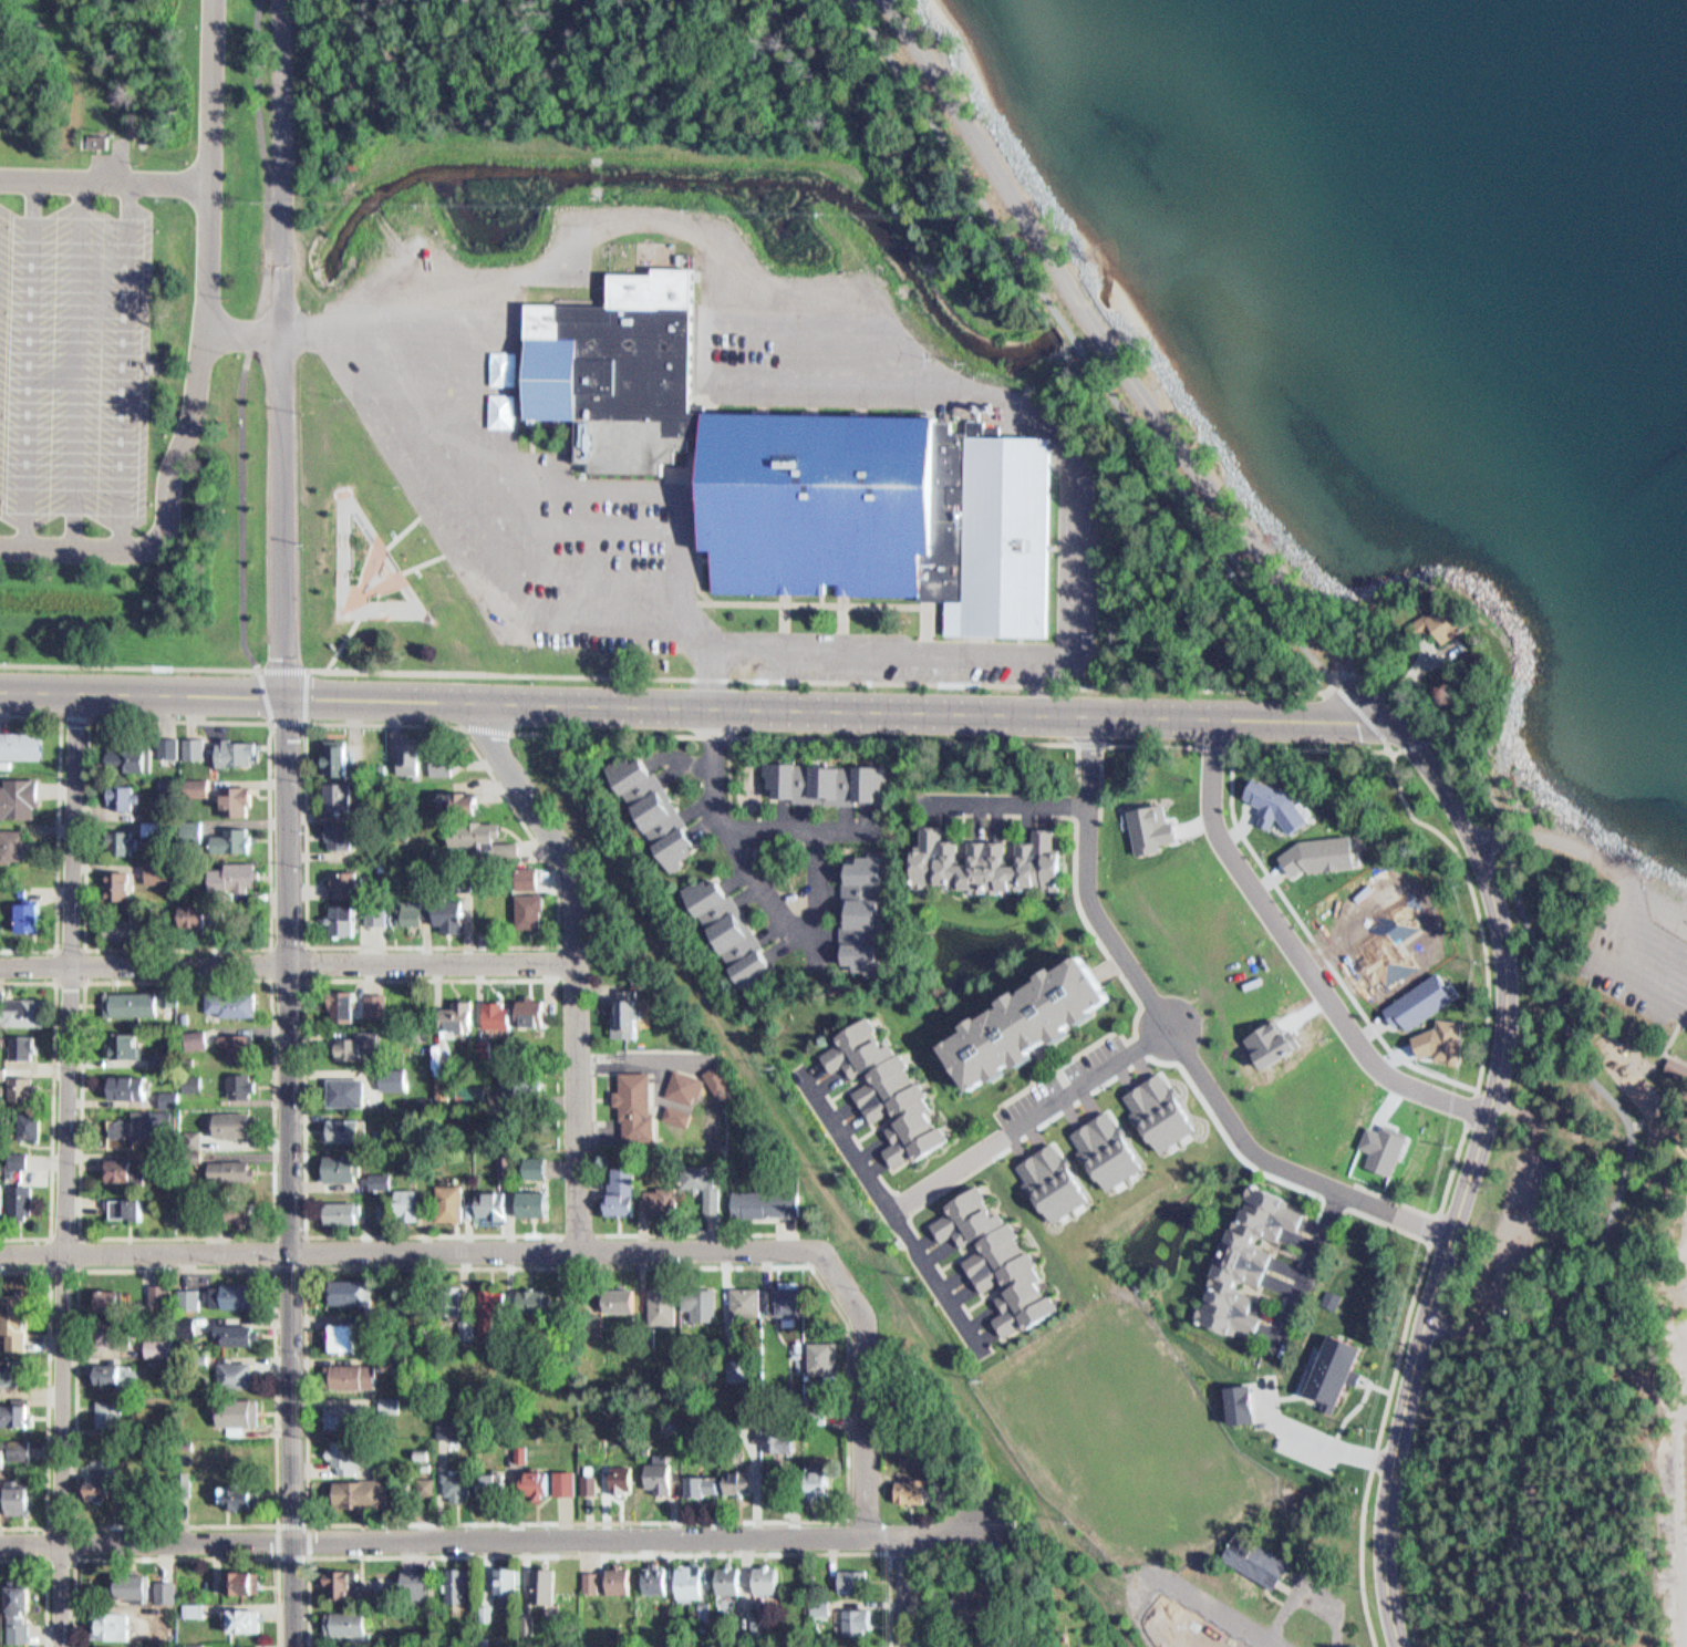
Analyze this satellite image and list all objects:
building: (92, 134)
road: (972, 135)
road: (932, 146)
road: (105, 180)
road: (1087, 307)
road: (1060, 324)
road: (244, 330)
road: (251, 336)
road: (280, 349)
road: (206, 355)
road: (32, 364)
parking lot: (75, 364)
road: (79, 365)
road: (126, 365)
building: (621, 365)
building: (887, 514)
road: (484, 557)
park: (372, 569)
building: (1439, 626)
road: (131, 666)
road: (826, 680)
road: (694, 708)
road: (1366, 714)
road: (308, 715)
road: (74, 718)
road: (487, 727)
building: (17, 736)
road: (816, 736)
road: (1116, 743)
road: (1215, 743)
building: (172, 747)
building: (197, 747)
road: (1090, 747)
building: (240, 753)
building: (415, 756)
building: (444, 763)
building: (188, 767)
building: (342, 774)
building: (832, 780)
building: (14, 789)
building: (125, 796)
building: (241, 801)
building: (462, 801)
road: (1007, 801)
building: (1274, 804)
building: (663, 811)
building: (1147, 822)
road: (54, 826)
building: (154, 828)
road: (806, 828)
building: (342, 835)
building: (478, 835)
building: (9, 837)
building: (237, 840)
building: (126, 842)
road: (1585, 850)
building: (1321, 853)
building: (1002, 863)
building: (165, 873)
building: (239, 876)
road: (758, 878)
building: (350, 883)
building: (123, 885)
building: (535, 903)
building: (20, 909)
building: (453, 910)
building: (867, 910)
building: (413, 911)
building: (379, 913)
building: (32, 916)
building: (348, 919)
road: (1528, 919)
building: (131, 928)
building: (737, 932)
road: (1501, 943)
road: (524, 944)
road: (261, 945)
road: (1301, 950)
road: (558, 961)
road: (288, 962)
road: (577, 963)
road: (72, 975)
road: (306, 978)
building: (143, 1001)
building: (1420, 1001)
building: (20, 1003)
building: (235, 1003)
building: (379, 1004)
building: (349, 1005)
building: (625, 1009)
building: (32, 1011)
building: (535, 1012)
building: (504, 1013)
building: (464, 1016)
building: (1036, 1019)
building: (17, 1037)
building: (200, 1038)
road: (1179, 1039)
building: (364, 1044)
building: (131, 1045)
road: (1486, 1045)
building: (242, 1046)
building: (164, 1056)
building: (1680, 1065)
building: (399, 1079)
building: (12, 1081)
building: (520, 1084)
building: (686, 1084)
building: (245, 1086)
building: (135, 1087)
building: (890, 1087)
building: (25, 1088)
parking lot: (1073, 1089)
building: (351, 1091)
building: (475, 1094)
road: (42, 1100)
building: (635, 1102)
road: (1471, 1104)
road: (306, 1109)
building: (22, 1116)
road: (1032, 1118)
building: (35, 1126)
building: (239, 1126)
building: (136, 1128)
building: (349, 1130)
building: (10, 1151)
building: (22, 1161)
building: (346, 1167)
building: (540, 1168)
building: (127, 1170)
road: (56, 1172)
building: (240, 1172)
road: (296, 1172)
park: (1545, 1178)
building: (710, 1184)
building: (13, 1191)
building: (627, 1192)
road: (824, 1193)
building: (25, 1200)
road: (1325, 1200)
building: (666, 1201)
building: (541, 1202)
building: (454, 1203)
building: (770, 1203)
building: (415, 1204)
building: (497, 1204)
building: (131, 1209)
road: (892, 1209)
road: (1441, 1209)
building: (250, 1210)
building: (346, 1212)
building: (385, 1213)
road: (1432, 1225)
road: (848, 1229)
road: (74, 1231)
road: (563, 1233)
road: (698, 1233)
road: (277, 1234)
road: (410, 1249)
building: (1005, 1258)
road: (70, 1261)
building: (1252, 1261)
road: (69, 1265)
road: (1312, 1270)
building: (356, 1292)
building: (238, 1295)
building: (794, 1297)
building: (538, 1299)
building: (625, 1299)
building: (751, 1299)
building: (116, 1301)
building: (567, 1301)
building: (703, 1303)
building: (666, 1305)
building: (497, 1308)
building: (20, 1322)
building: (241, 1333)
building: (121, 1336)
building: (350, 1337)
building: (162, 1348)
building: (826, 1357)
building: (15, 1370)
building: (114, 1374)
building: (239, 1374)
building: (1345, 1375)
building: (360, 1376)
building: (1369, 1376)
road: (867, 1387)
road: (37, 1388)
building: (244, 1411)
building: (1250, 1411)
building: (20, 1415)
building: (111, 1415)
building: (348, 1417)
building: (1128, 1428)
building: (454, 1433)
road: (1325, 1440)
building: (20, 1449)
building: (350, 1457)
building: (758, 1463)
building: (107, 1475)
building: (630, 1477)
building: (666, 1477)
building: (494, 1482)
building: (555, 1482)
building: (596, 1482)
building: (827, 1482)
building: (464, 1485)
building: (707, 1485)
road: (990, 1489)
building: (914, 1491)
building: (242, 1494)
building: (376, 1494)
building: (22, 1495)
road: (331, 1522)
road: (493, 1537)
road: (63, 1551)
road: (168, 1553)
road: (602, 1553)
road: (309, 1555)
building: (1259, 1557)
building: (416, 1577)
building: (624, 1578)
building: (659, 1578)
building: (770, 1578)
building: (694, 1579)
building: (734, 1579)
road: (34, 1581)
building: (509, 1581)
building: (856, 1581)
road: (1173, 1581)
building: (247, 1583)
building: (463, 1583)
building: (348, 1584)
building: (547, 1585)
building: (594, 1586)
building: (148, 1589)
road: (908, 1591)
building: (245, 1619)
building: (860, 1622)
building: (352, 1624)
building: (114, 1626)
building: (18, 1632)
building: (10, 1646)
building: (249, 1646)

